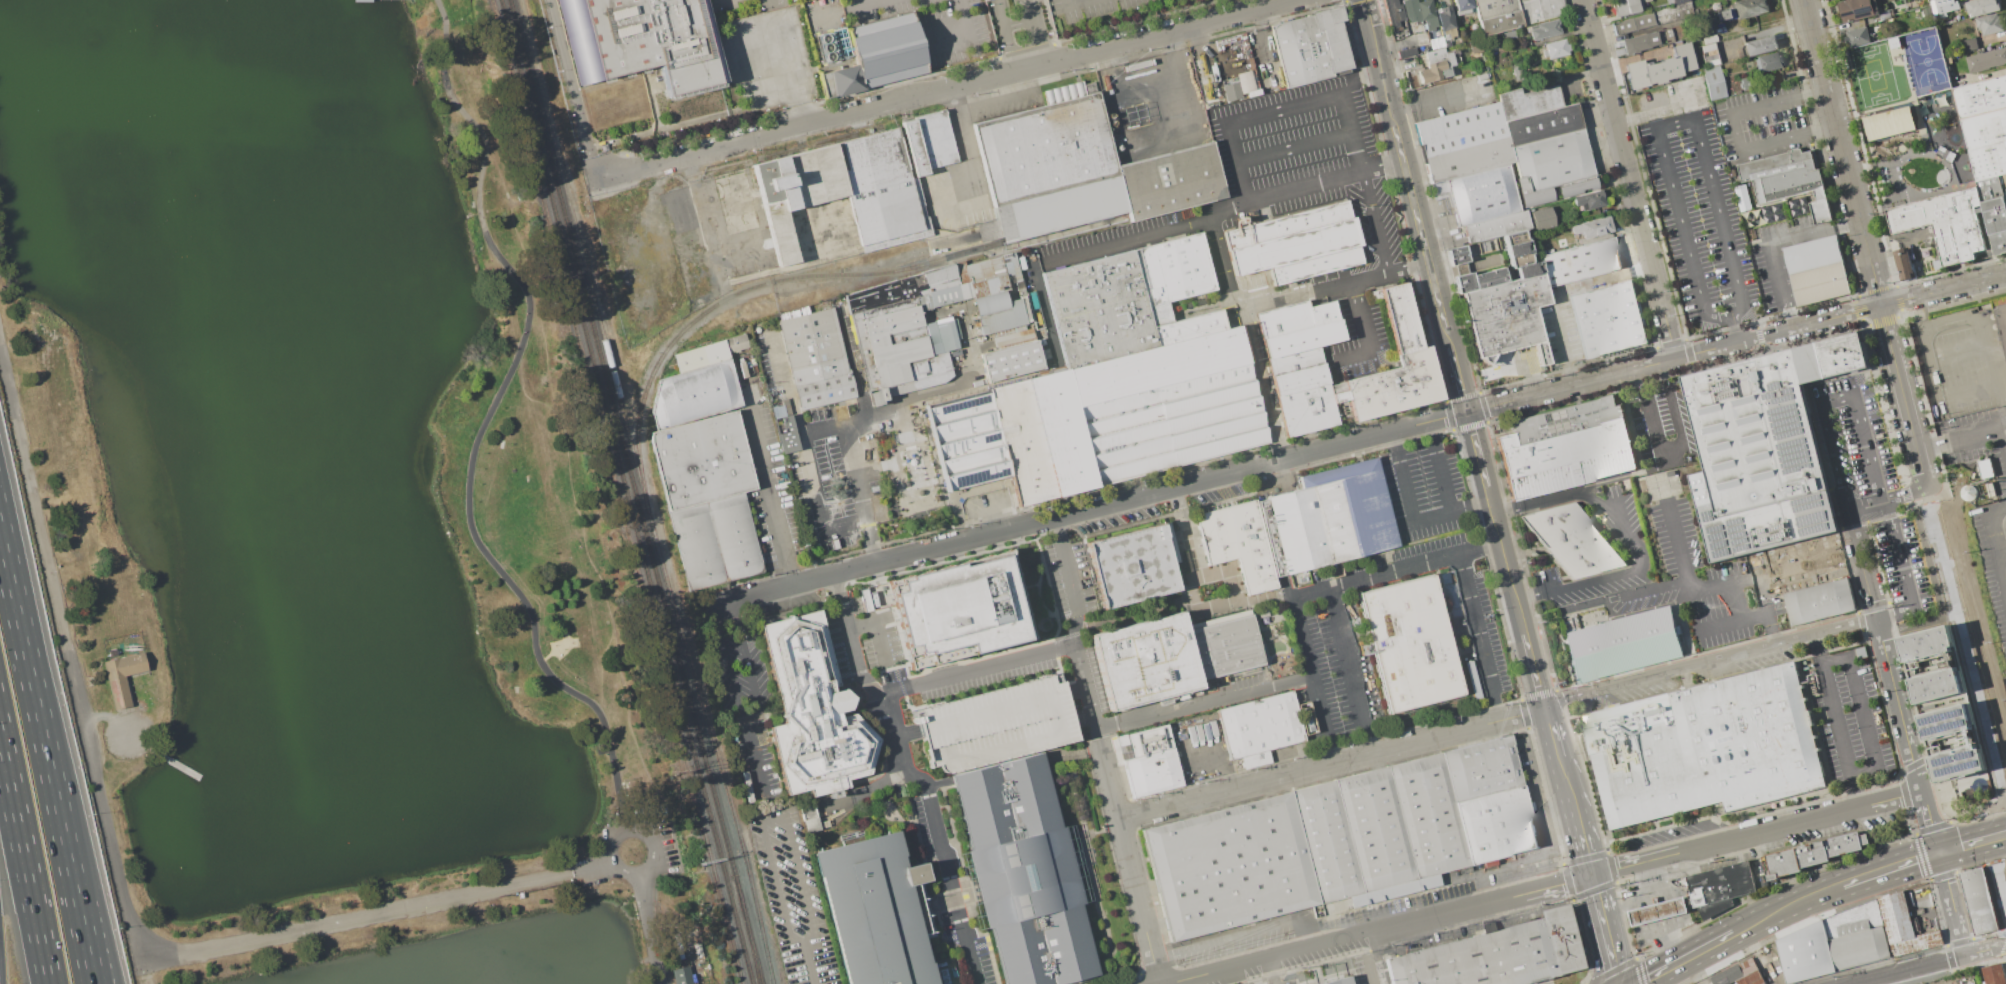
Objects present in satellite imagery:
pier: (361, 0)
road: (1071, 1)
road: (865, 3)
building: (1463, 6)
building: (1626, 6)
building: (1983, 6)
building: (1749, 7)
building: (1942, 7)
building: (1550, 9)
building: (1857, 9)
building: (1411, 10)
building: (1528, 11)
building: (1394, 12)
building: (1427, 13)
building: (1671, 13)
building: (1721, 14)
building: (1497, 15)
building: (1446, 21)
building: (1702, 22)
building: (1632, 23)
building: (1990, 24)
road: (963, 28)
building: (1417, 29)
building: (1545, 29)
road: (1034, 32)
road: (1007, 35)
building: (1511, 35)
building: (1857, 35)
building: (641, 40)
building: (1491, 41)
building: (1893, 42)
road: (1121, 43)
building: (1639, 43)
building: (1970, 44)
building: (1760, 45)
building: (1309, 47)
building: (887, 49)
building: (1556, 49)
building: (1407, 53)
building: (1435, 56)
building: (1925, 60)
building: (1986, 60)
building: (1769, 61)
road: (787, 62)
building: (1659, 66)
building: (1436, 69)
building: (1516, 71)
park: (1873, 74)
building: (846, 79)
building: (1714, 82)
road: (572, 89)
building: (1232, 91)
building: (1980, 96)
road: (1435, 97)
parking lot: (1666, 99)
building: (1528, 103)
road: (1652, 103)
road: (877, 106)
road: (1154, 107)
road: (1266, 108)
parking lot: (1760, 120)
building: (1889, 123)
building: (1543, 125)
building: (1984, 128)
building: (1460, 129)
road: (1735, 131)
building: (935, 138)
building: (1046, 146)
road: (1290, 146)
building: (915, 148)
road: (698, 151)
road: (968, 153)
road: (1843, 153)
building: (1988, 160)
building: (1465, 161)
building: (1550, 164)
road: (1406, 173)
road: (1628, 179)
building: (2003, 179)
building: (1787, 180)
building: (1170, 181)
building: (1576, 188)
building: (1989, 188)
building: (883, 189)
building: (1482, 194)
building: (2004, 194)
building: (797, 197)
building: (1741, 197)
building: (1589, 200)
road: (1219, 206)
building: (1054, 211)
road: (728, 219)
road: (1372, 219)
building: (1542, 219)
parking lot: (1697, 222)
building: (1944, 222)
building: (1996, 223)
building: (1497, 226)
building: (1591, 228)
building: (1297, 243)
road: (1772, 243)
building: (1517, 248)
road: (745, 253)
building: (1457, 255)
building: (1813, 255)
building: (1579, 263)
building: (1904, 264)
building: (1176, 269)
building: (984, 270)
building: (1016, 270)
building: (1528, 270)
building: (1142, 276)
building: (1479, 281)
building: (1820, 284)
building: (988, 286)
building: (907, 288)
road: (1944, 290)
railway: (739, 292)
building: (950, 295)
road: (1283, 297)
building: (990, 303)
road: (1743, 307)
building: (1099, 309)
building: (1606, 315)
building: (1006, 316)
building: (2001, 316)
building: (1230, 317)
building: (1399, 317)
building: (1507, 317)
building: (1294, 318)
road: (1960, 318)
building: (1188, 327)
road: (1731, 328)
building: (945, 336)
building: (1012, 336)
road: (1372, 337)
building: (1302, 339)
road: (1566, 339)
building: (736, 343)
building: (813, 346)
building: (895, 346)
road: (1964, 349)
building: (701, 356)
road: (1674, 358)
building: (1014, 360)
building: (1295, 360)
building: (1158, 365)
road: (1459, 379)
road: (788, 381)
road: (1260, 384)
building: (1395, 386)
road: (1974, 388)
building: (824, 391)
building: (695, 394)
road: (1904, 396)
building: (1306, 399)
road: (893, 404)
traffic signals: (1467, 412)
road: (486, 423)
building: (1172, 423)
road: (1430, 428)
building: (786, 434)
building: (1042, 436)
road: (1392, 438)
road: (1962, 439)
building: (968, 440)
railway: (622, 448)
road: (1476, 449)
building: (1569, 449)
building: (1767, 450)
road: (1670, 452)
road: (1832, 458)
building: (702, 461)
road: (1259, 464)
building: (1984, 468)
road: (1442, 474)
road: (814, 481)
road: (1403, 484)
road: (771, 485)
parking lot: (1874, 485)
silo: (2000, 491)
railway: (616, 492)
railway: (624, 492)
road: (859, 492)
road: (1538, 500)
road: (1887, 501)
road: (1884, 502)
park: (326, 507)
road: (578, 509)
road: (1446, 515)
building: (1327, 518)
road: (846, 525)
building: (734, 536)
road: (1999, 536)
building: (1574, 541)
building: (1238, 543)
building: (697, 545)
road: (942, 545)
road: (2004, 548)
building: (1806, 558)
road: (1506, 559)
parking lot: (1992, 559)
road: (592, 563)
road: (1861, 564)
building: (1135, 565)
road: (1684, 568)
road: (1397, 569)
road: (1626, 571)
building: (1826, 576)
road: (1069, 580)
road: (1657, 587)
road: (772, 589)
road: (1937, 591)
road: (1200, 593)
building: (1821, 602)
building: (960, 609)
road: (1766, 609)
road: (21, 614)
road: (1950, 615)
road: (1139, 617)
road: (1732, 622)
road: (876, 624)
road: (1684, 626)
railway: (679, 633)
road: (1478, 637)
road: (69, 641)
building: (1410, 644)
building: (1224, 645)
building: (1625, 645)
building: (1860, 652)
road: (1966, 657)
road: (726, 661)
building: (1146, 661)
road: (1710, 661)
road: (1536, 668)
road: (977, 670)
road: (1351, 670)
road: (860, 674)
building: (122, 676)
road: (600, 676)
road: (1312, 680)
road: (1087, 686)
road: (1204, 701)
road: (755, 704)
road: (1898, 704)
building: (1944, 704)
building: (814, 712)
road: (1862, 713)
building: (1307, 718)
road: (114, 719)
road: (1836, 720)
building: (996, 724)
parking lot: (996, 724)
building: (1259, 727)
parking lot: (125, 736)
road: (1556, 743)
building: (1704, 751)
road: (1332, 764)
pier: (177, 765)
building: (1153, 772)
road: (862, 791)
building: (812, 820)
road: (1929, 821)
road: (1579, 827)
road: (622, 832)
road: (1756, 833)
road: (1989, 840)
building: (1341, 841)
road: (1971, 842)
road: (67, 850)
road: (80, 850)
parking lot: (691, 850)
traffic signals: (1938, 852)
road: (1127, 855)
building: (1812, 859)
road: (24, 861)
road: (1892, 866)
road: (945, 869)
building: (1025, 874)
traffic signals: (1591, 875)
road: (1593, 882)
building: (1722, 886)
road: (2000, 888)
road: (792, 900)
building: (1976, 901)
road: (1951, 903)
road: (1481, 904)
building: (1657, 911)
road: (385, 912)
building: (874, 912)
building: (1903, 926)
road: (648, 928)
road: (1604, 929)
road: (1741, 931)
railway: (748, 939)
railway: (750, 940)
building: (1835, 942)
road: (1984, 949)
road: (2005, 955)
road: (1369, 956)
building: (1501, 957)
road: (1270, 958)
road: (1908, 969)
road: (1273, 971)
road: (0, 973)
building: (1738, 974)
building: (1993, 974)
building: (681, 975)
road: (1615, 975)
building: (1339, 981)

